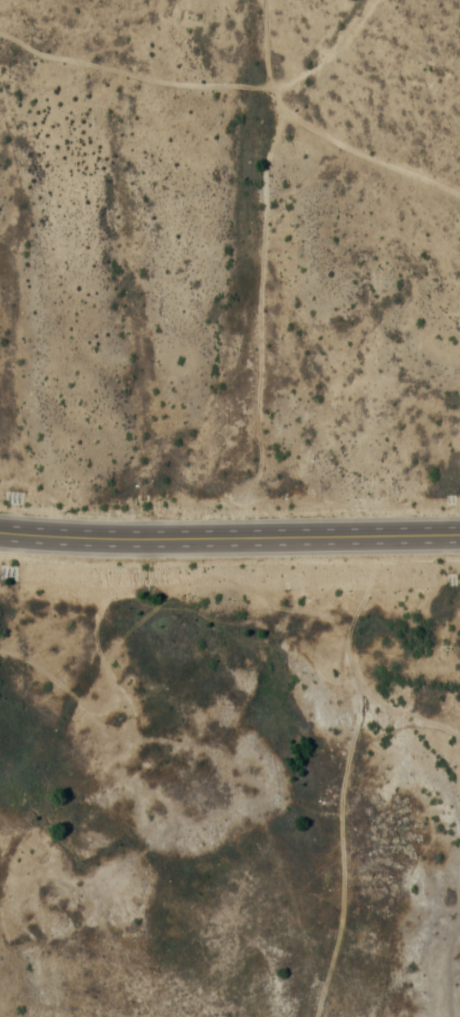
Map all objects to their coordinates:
road: (229, 535)
quarry: (128, 996)

